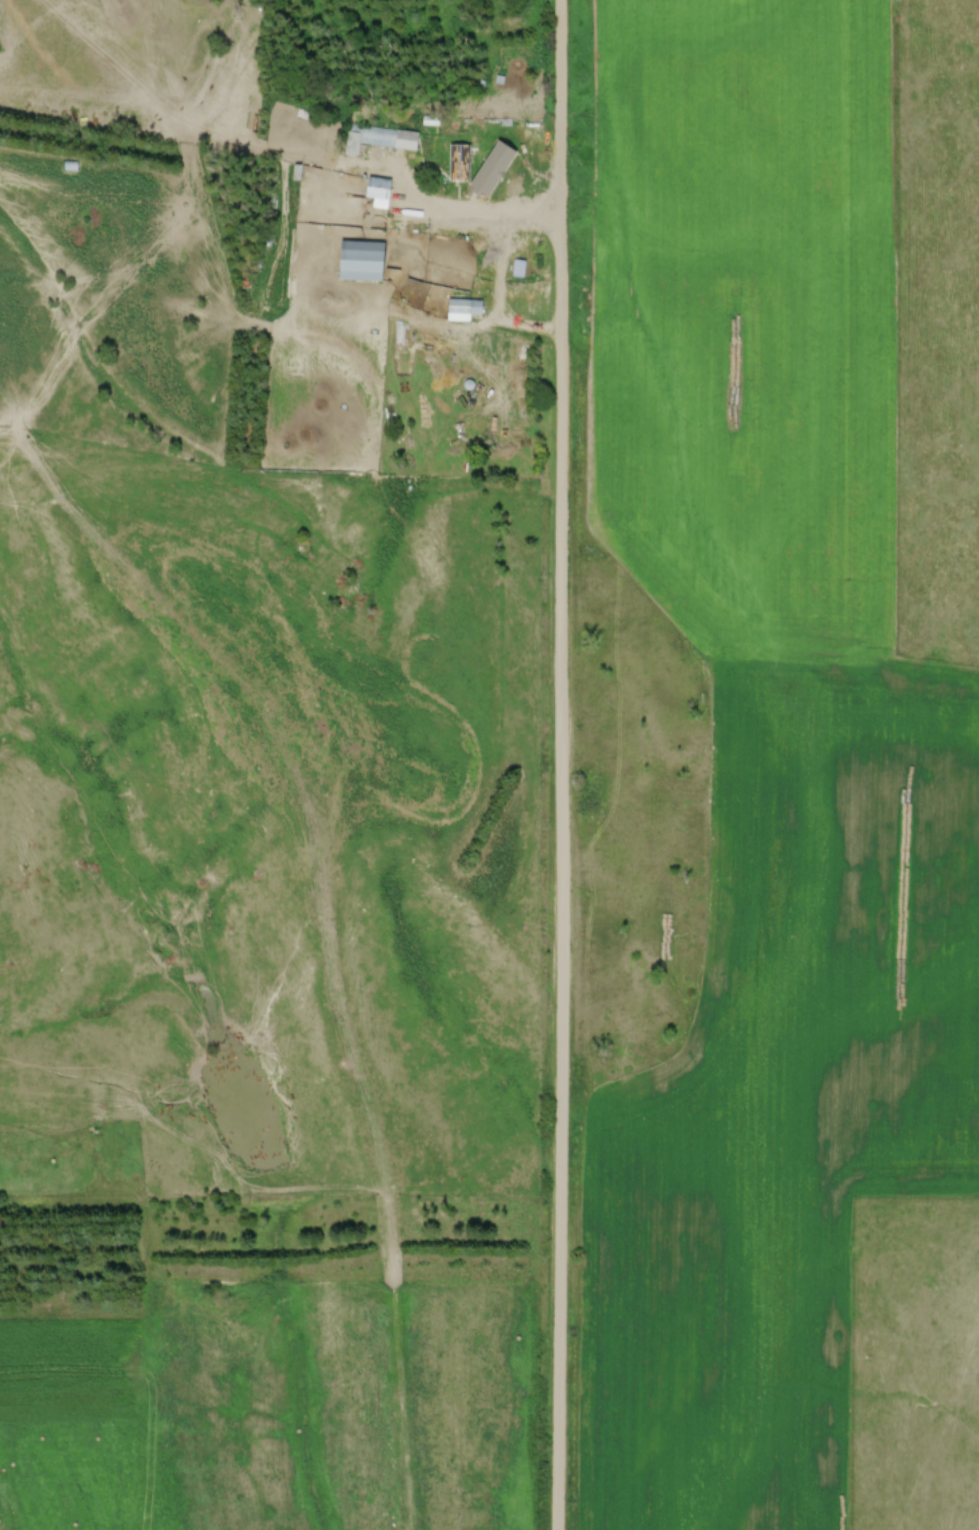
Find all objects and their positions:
building: (380, 141)
building: (462, 162)
building: (377, 194)
building: (359, 263)
road: (498, 266)
building: (466, 309)
road: (566, 765)

